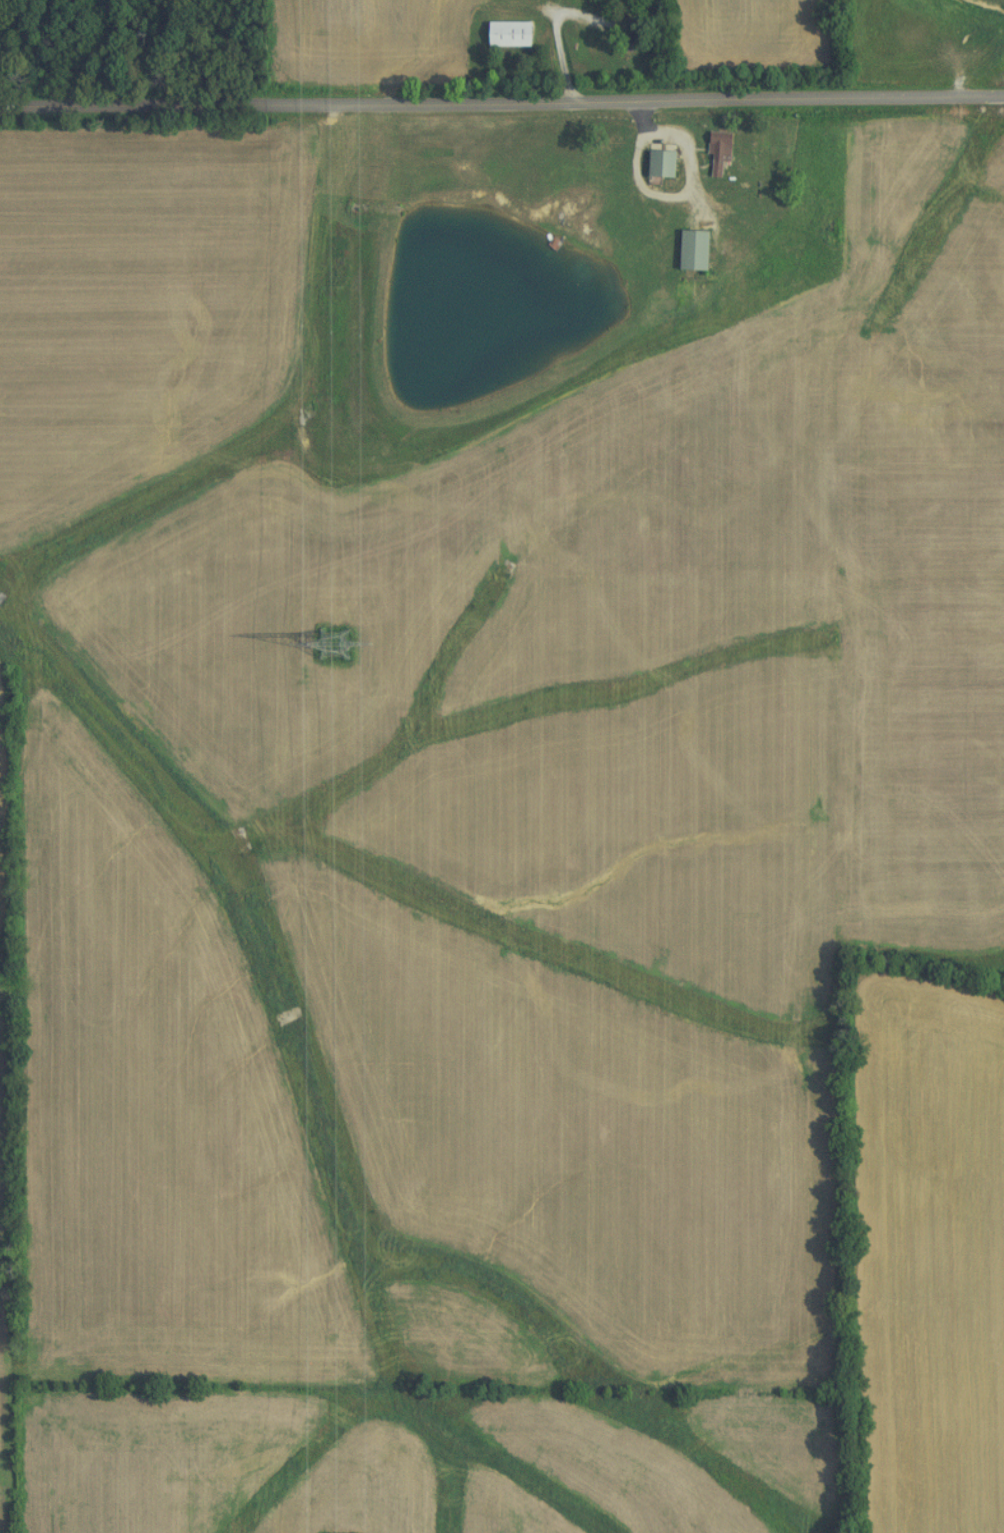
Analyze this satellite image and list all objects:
building: (499, 34)
road: (501, 101)
road: (641, 115)
building: (710, 153)
building: (650, 164)
road: (644, 182)
building: (683, 251)
power tower: (328, 640)

